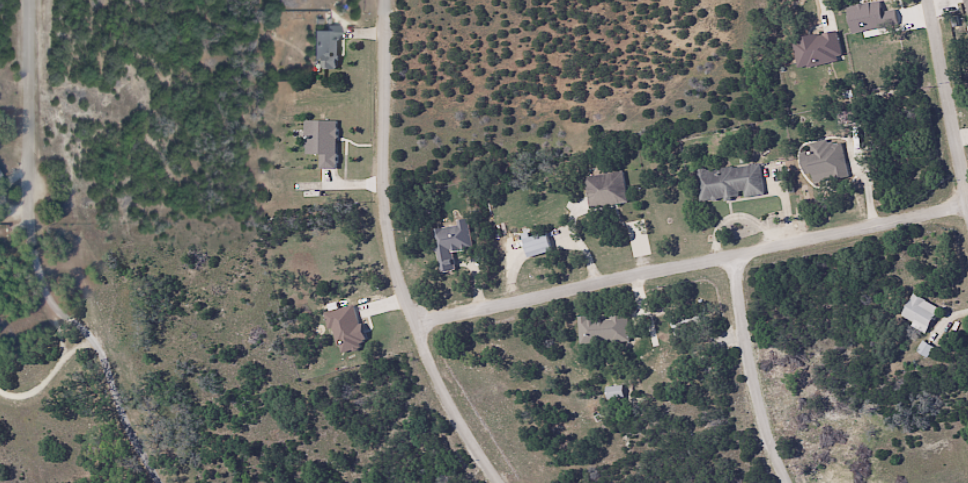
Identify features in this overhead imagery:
building: (325, 47)
building: (815, 49)
road: (949, 90)
building: (320, 141)
building: (822, 162)
road: (384, 169)
building: (0, 172)
building: (728, 182)
building: (604, 189)
road: (82, 199)
building: (450, 243)
building: (534, 244)
road: (40, 259)
road: (695, 267)
building: (917, 312)
building: (601, 329)
road: (462, 409)

